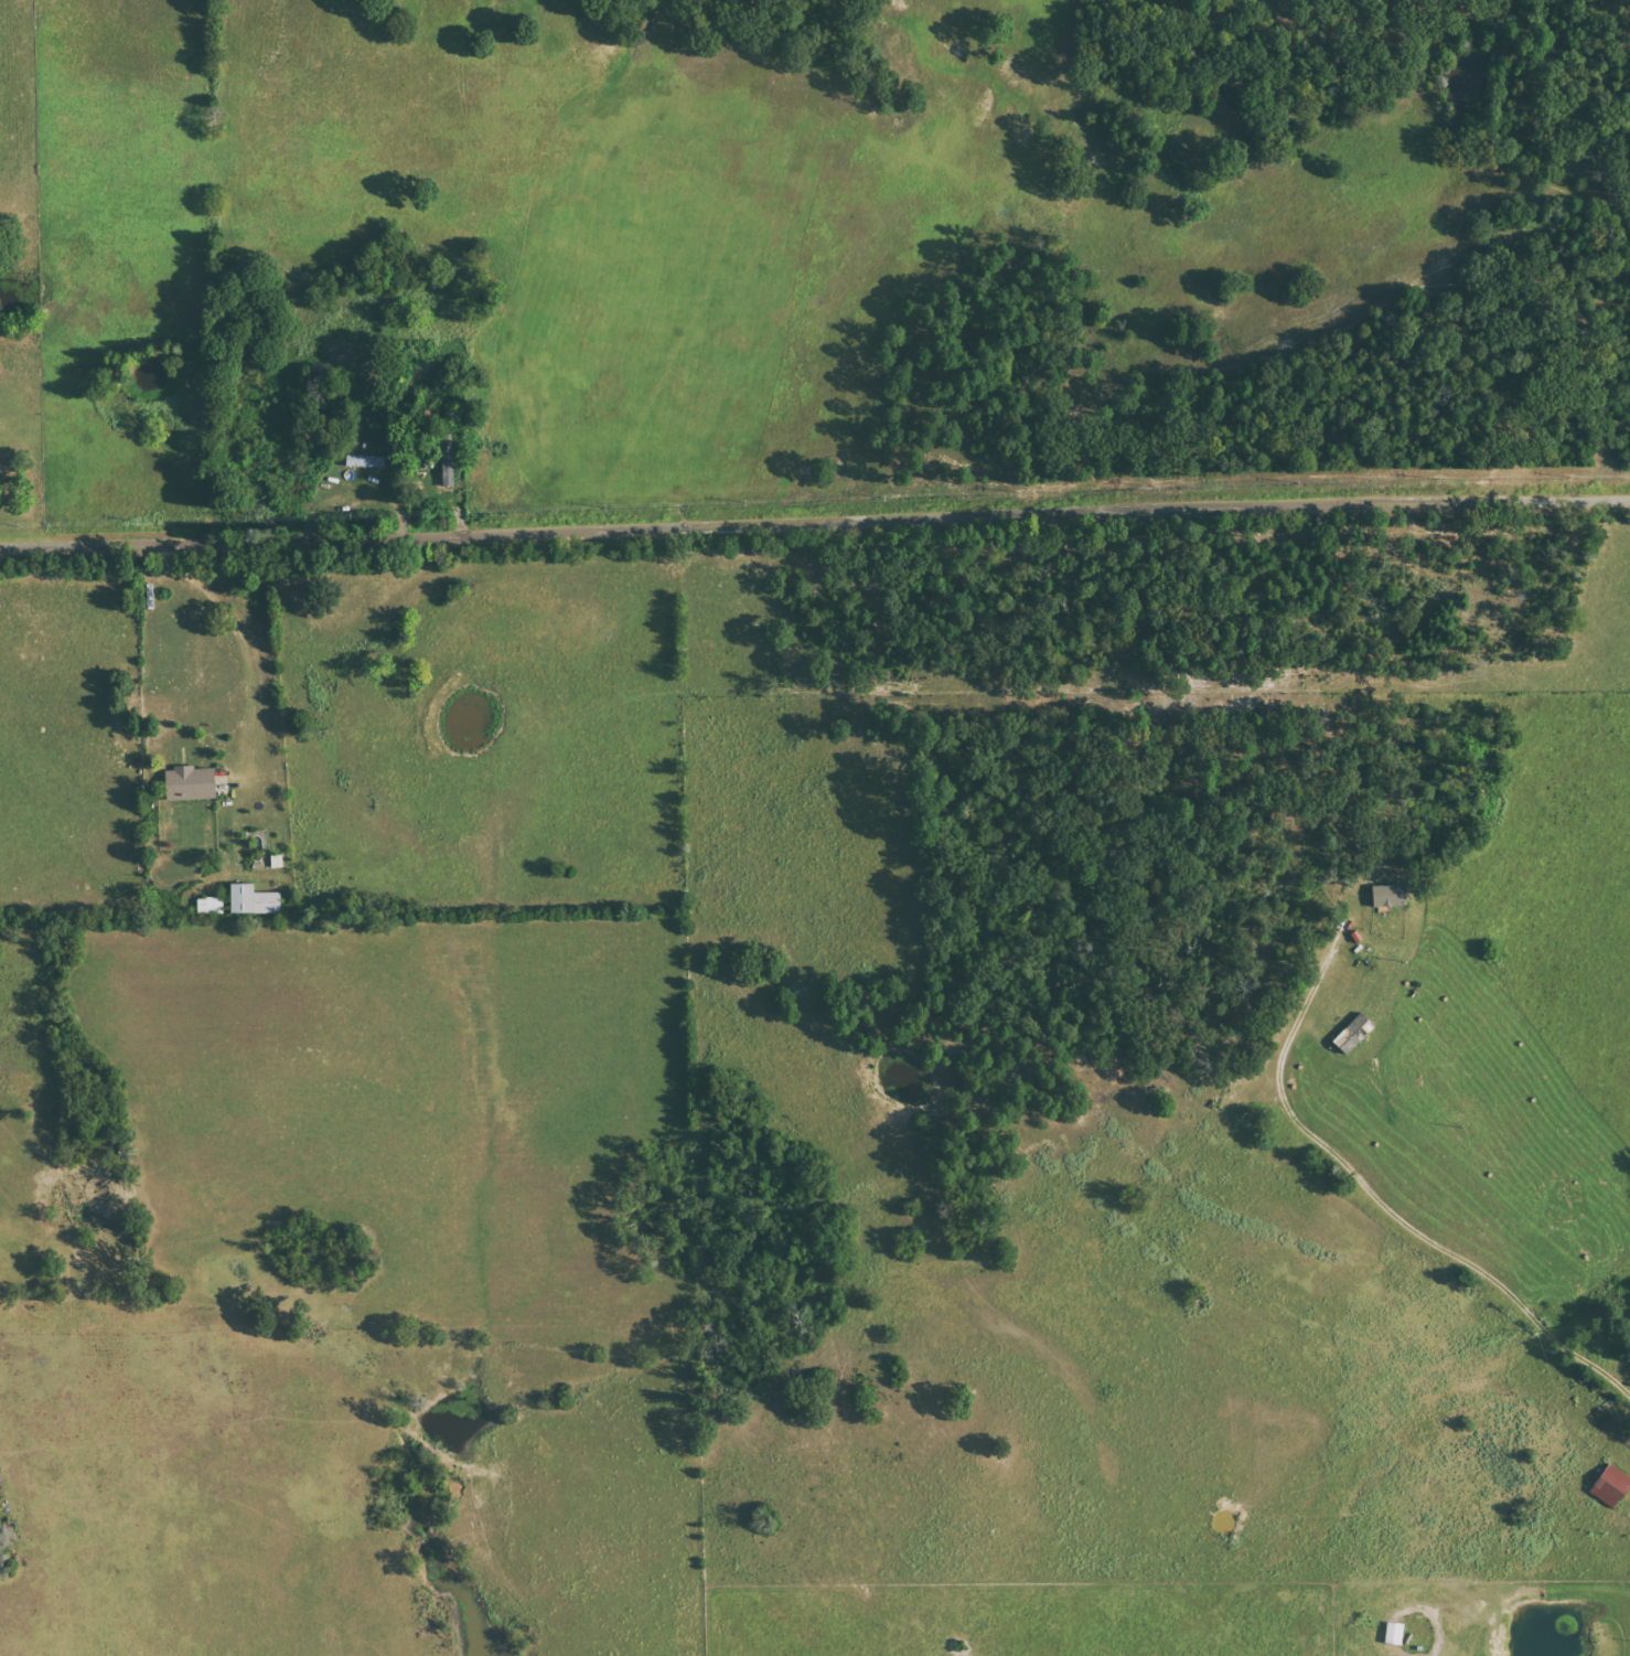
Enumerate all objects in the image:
building: (448, 460)
building: (365, 461)
road: (814, 524)
building: (190, 783)
building: (277, 862)
building: (1390, 896)
building: (254, 900)
building: (211, 906)
building: (1508, 1468)
building: (1611, 1485)
building: (1394, 1633)

